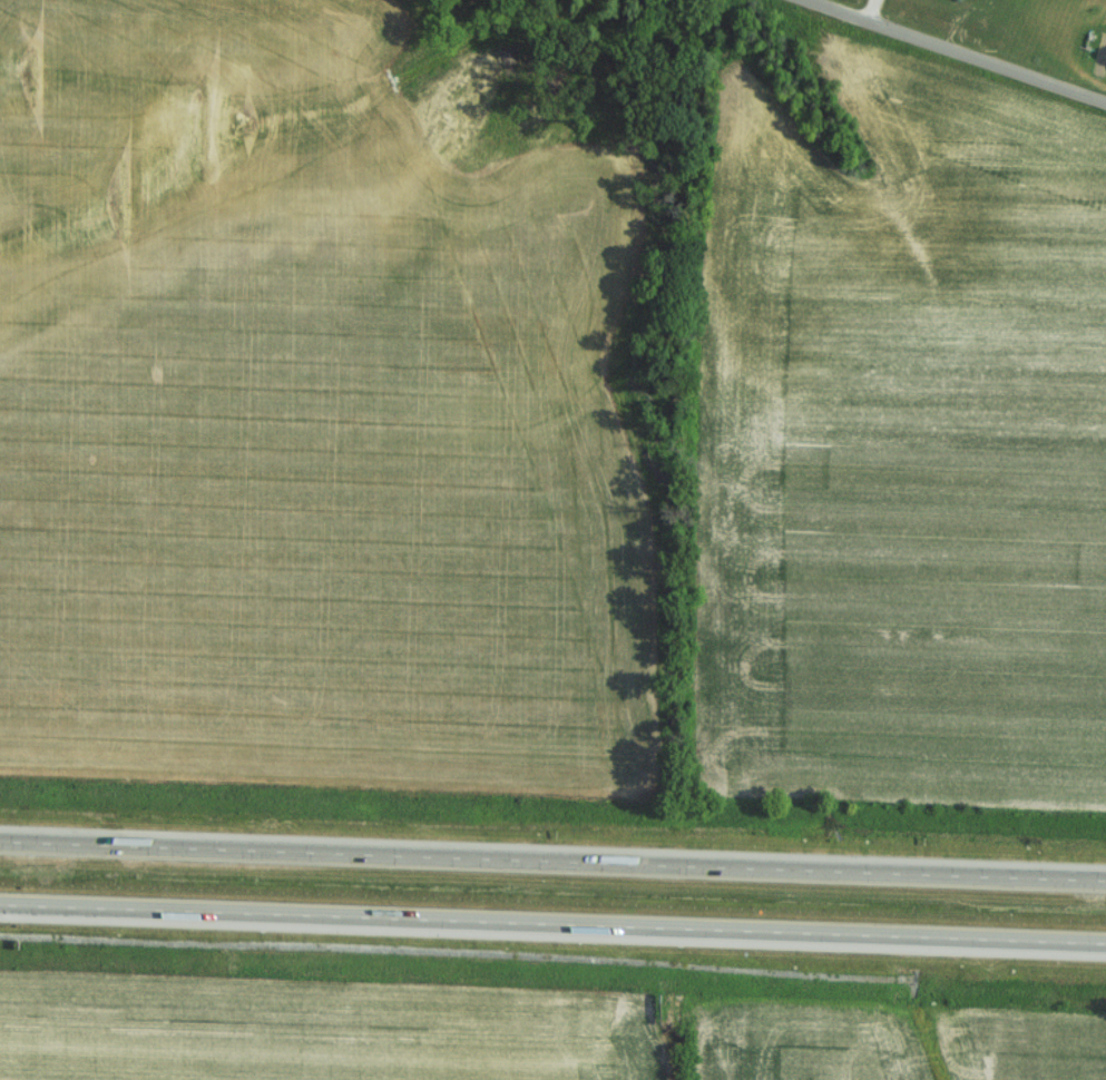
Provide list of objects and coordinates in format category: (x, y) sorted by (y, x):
road: (957, 51)
crop: (101, 116)
crop: (904, 441)
crop: (330, 479)
road: (552, 860)
road: (552, 923)
crop: (305, 1035)
crop: (1024, 1049)

